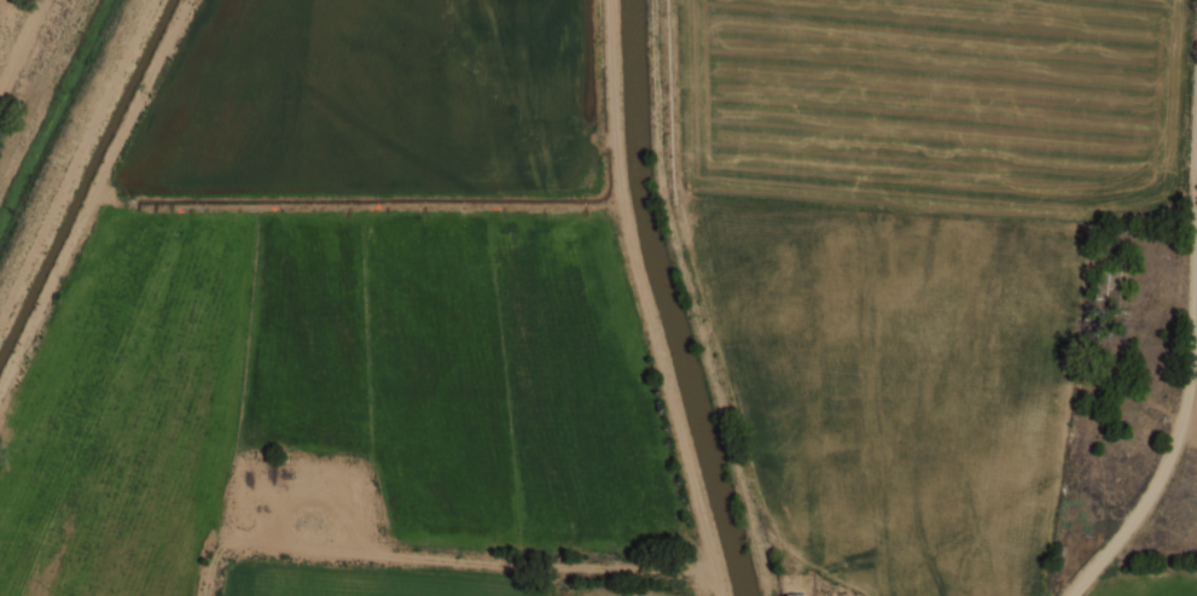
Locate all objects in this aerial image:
building: (1111, 281)
road: (1160, 485)
building: (795, 595)

